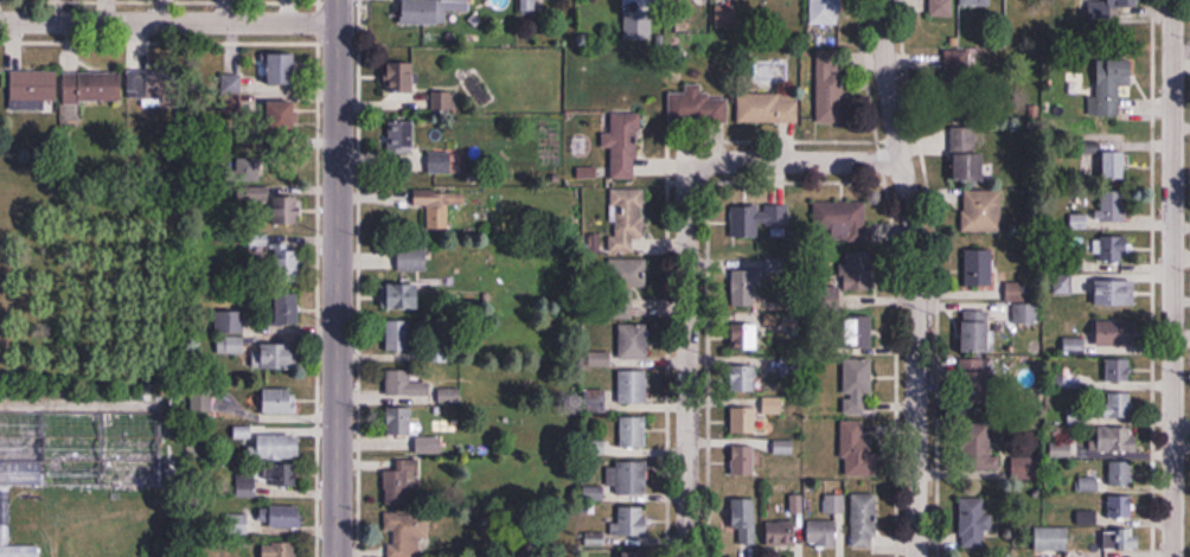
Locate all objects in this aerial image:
building: (974, 2)
building: (942, 7)
building: (429, 11)
building: (825, 11)
building: (1106, 12)
road: (168, 21)
building: (282, 70)
building: (401, 76)
building: (1112, 84)
building: (153, 87)
building: (830, 87)
building: (92, 88)
building: (32, 89)
building: (697, 107)
building: (768, 108)
building: (277, 114)
building: (962, 121)
building: (402, 135)
building: (623, 145)
building: (443, 161)
building: (1115, 166)
building: (258, 196)
building: (439, 205)
building: (1113, 205)
building: (287, 210)
building: (983, 211)
building: (627, 218)
building: (760, 218)
building: (840, 220)
building: (1114, 249)
building: (412, 258)
road: (689, 261)
building: (288, 263)
building: (979, 267)
building: (857, 271)
building: (627, 273)
road: (915, 276)
road: (337, 278)
road: (1172, 278)
building: (744, 288)
building: (1114, 293)
building: (402, 296)
building: (288, 308)
building: (620, 308)
building: (1026, 314)
building: (977, 331)
building: (746, 332)
building: (859, 332)
building: (1109, 333)
building: (399, 335)
building: (633, 341)
building: (231, 345)
building: (281, 357)
building: (1119, 370)
building: (744, 379)
building: (405, 384)
building: (975, 384)
building: (857, 385)
building: (633, 388)
building: (280, 402)
building: (1118, 405)
building: (747, 418)
building: (399, 422)
building: (634, 433)
building: (1117, 440)
building: (977, 444)
building: (783, 447)
building: (279, 448)
building: (101, 449)
building: (858, 453)
building: (743, 461)
building: (1121, 474)
building: (281, 476)
building: (631, 478)
building: (398, 484)
building: (1089, 484)
building: (834, 504)
building: (1121, 507)
building: (286, 517)
building: (21, 521)
building: (632, 521)
building: (864, 521)
building: (743, 523)
building: (974, 523)
building: (783, 533)
building: (823, 533)
building: (405, 536)
building: (1051, 539)
building: (1121, 539)
building: (280, 550)
building: (634, 553)

